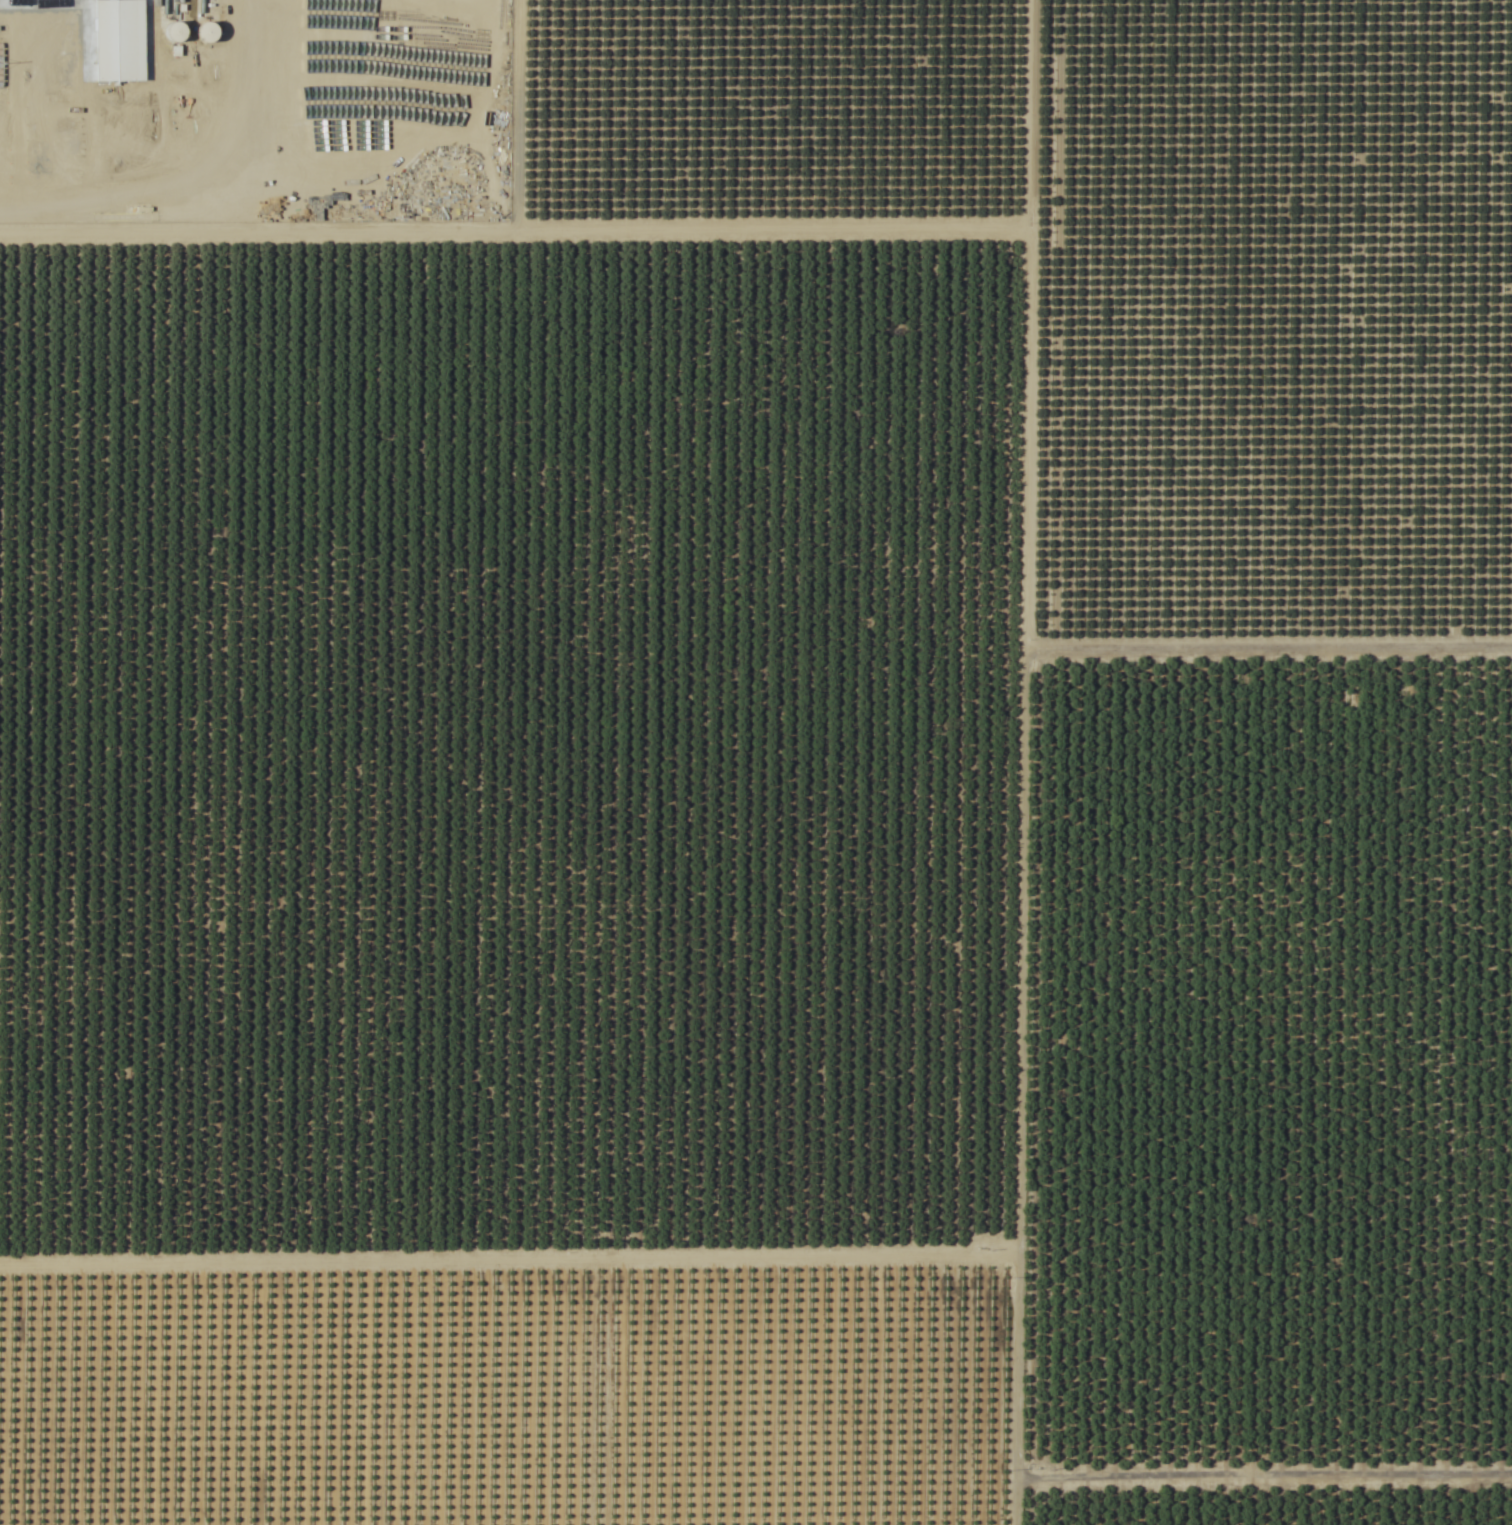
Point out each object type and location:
building: (121, 4)
building: (497, 70)
building: (497, 95)
road: (232, 162)
crop: (756, 762)

